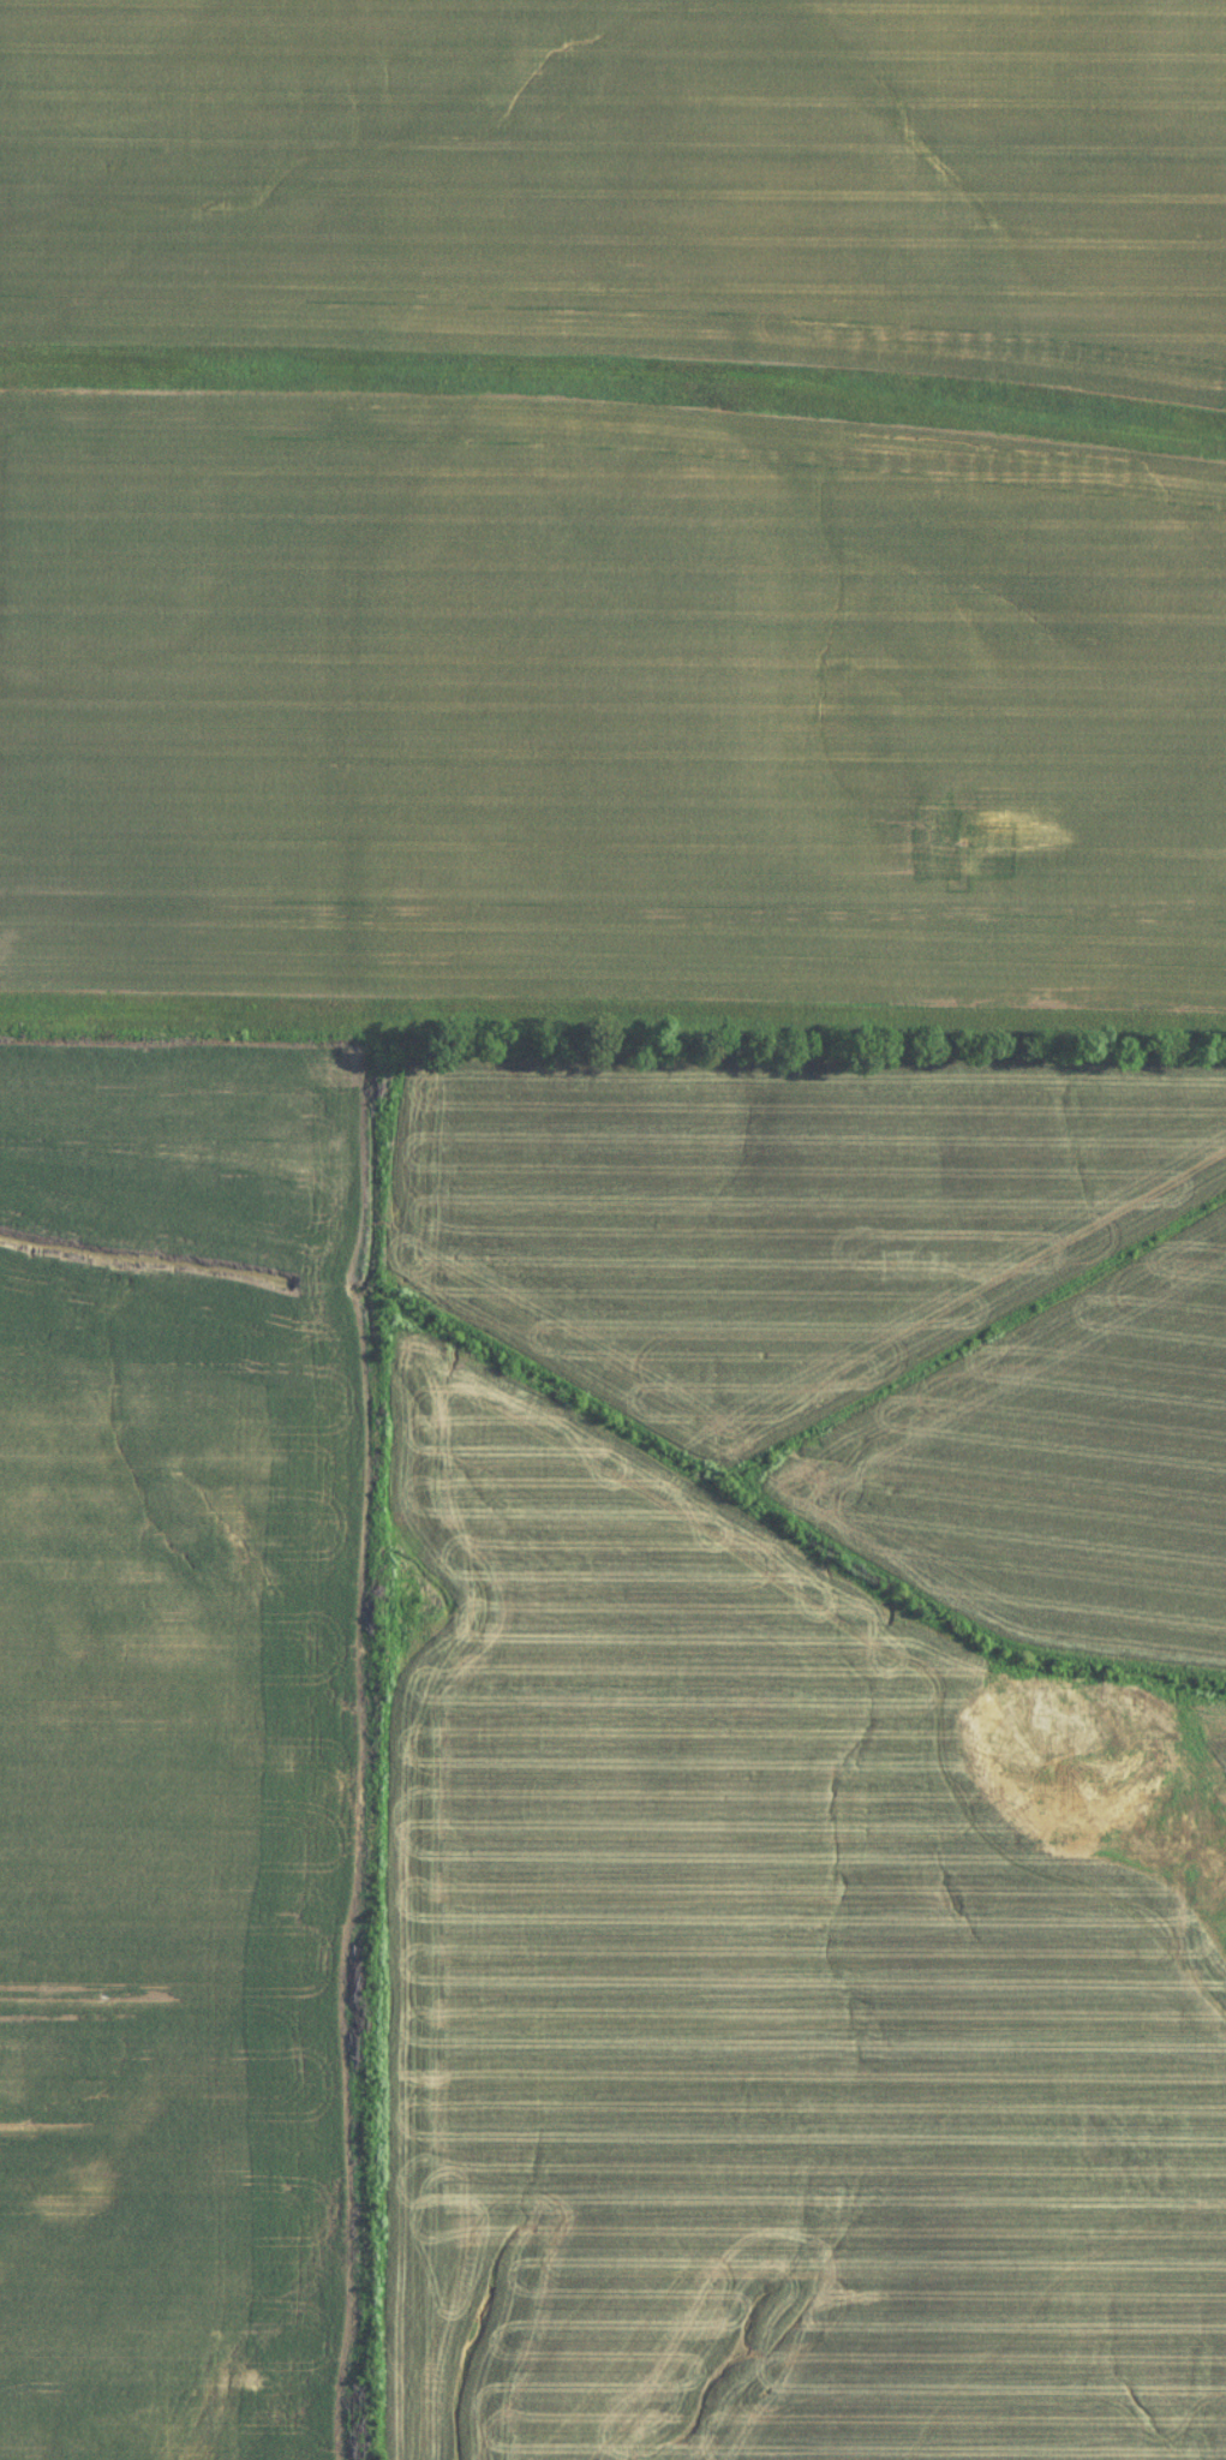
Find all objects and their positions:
building: (1142, 2150)

